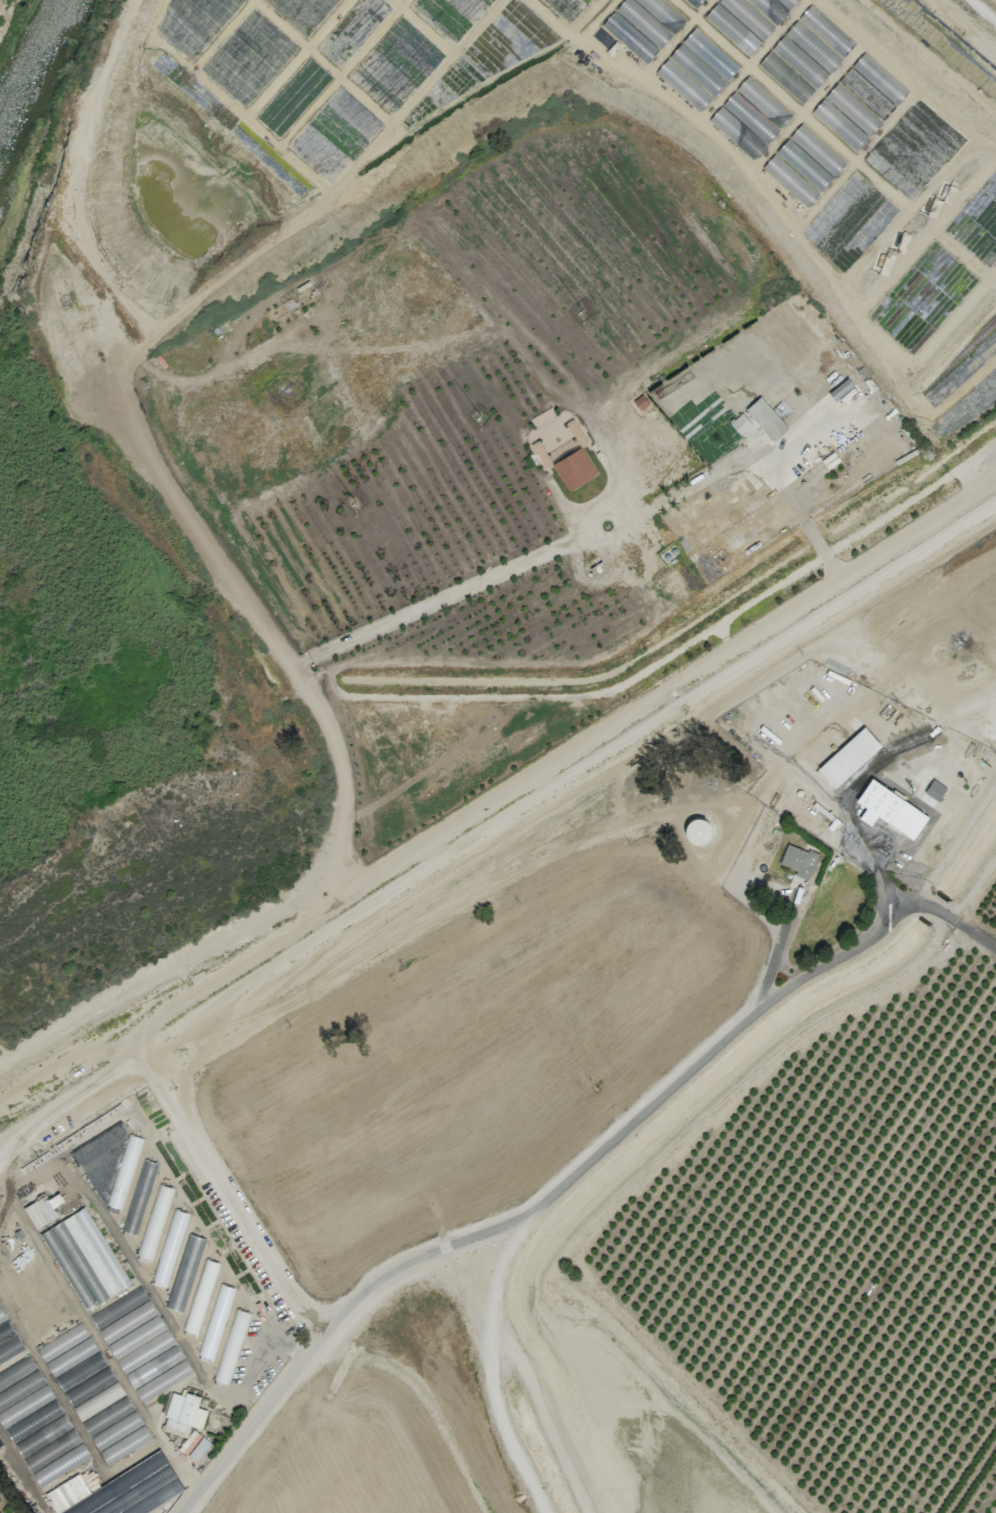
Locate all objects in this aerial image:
building: (694, 3)
building: (787, 3)
building: (745, 20)
building: (643, 25)
building: (826, 31)
building: (806, 54)
building: (703, 62)
road: (917, 68)
building: (785, 78)
building: (879, 79)
building: (682, 84)
building: (866, 94)
building: (846, 117)
road: (836, 142)
building: (817, 150)
building: (803, 165)
building: (790, 180)
road: (315, 210)
road: (787, 219)
road: (87, 357)
building: (765, 417)
building: (748, 432)
building: (566, 465)
road: (475, 582)
building: (848, 756)
road: (854, 775)
building: (934, 790)
road: (339, 793)
road: (490, 804)
building: (889, 809)
road: (956, 849)
building: (798, 861)
road: (932, 909)
road: (970, 934)
road: (775, 951)
road: (56, 1063)
building: (99, 1158)
building: (123, 1173)
road: (225, 1194)
building: (139, 1197)
road: (544, 1208)
building: (41, 1210)
building: (153, 1224)
building: (169, 1247)
building: (193, 1248)
building: (84, 1259)
building: (200, 1297)
crop: (130, 1319)
building: (215, 1322)
building: (231, 1346)
building: (4, 1399)
building: (185, 1409)
building: (191, 1439)
building: (47, 1448)
building: (119, 1490)

